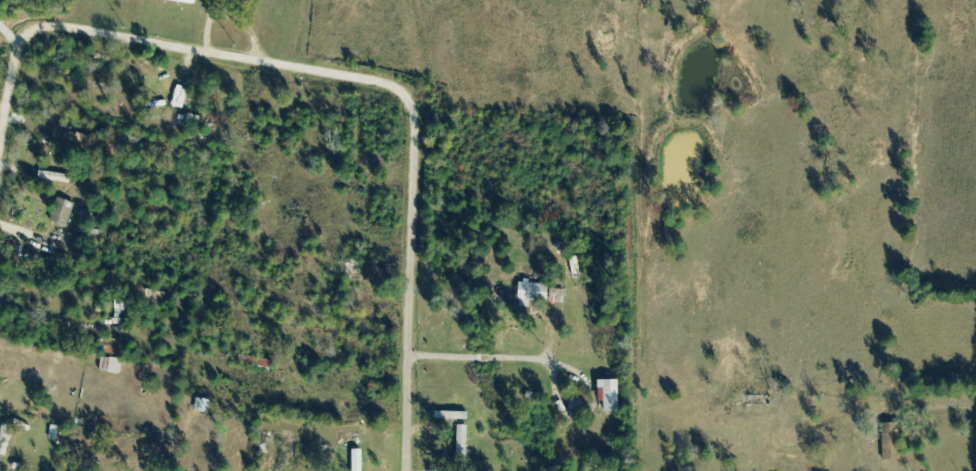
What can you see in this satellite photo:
building: (187, 1)
road: (291, 67)
building: (59, 179)
building: (64, 213)
building: (536, 293)
building: (613, 397)
road: (408, 413)
building: (6, 441)
building: (893, 443)
building: (465, 444)
building: (360, 461)

